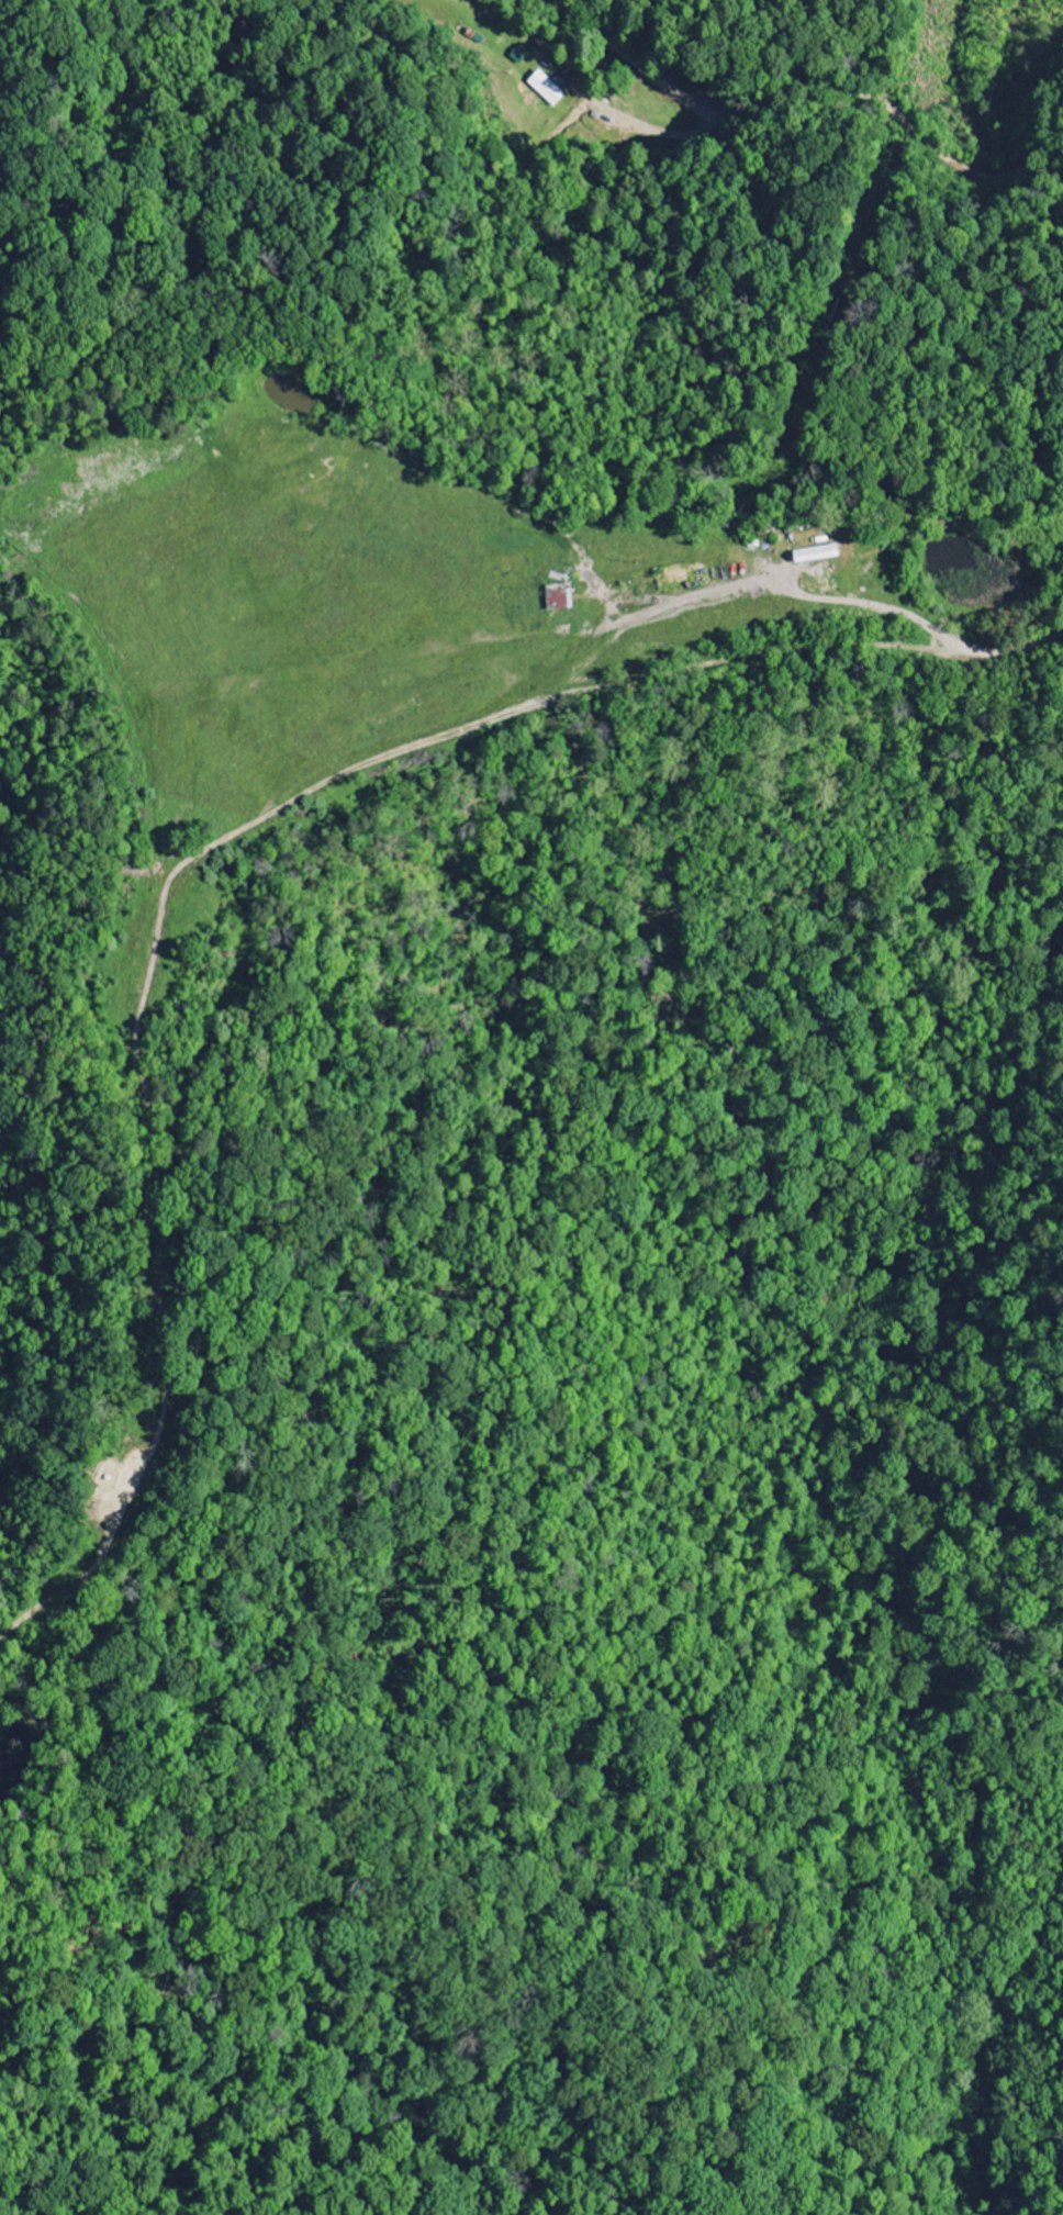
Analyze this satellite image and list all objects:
building: (547, 86)
building: (814, 555)
building: (558, 596)

